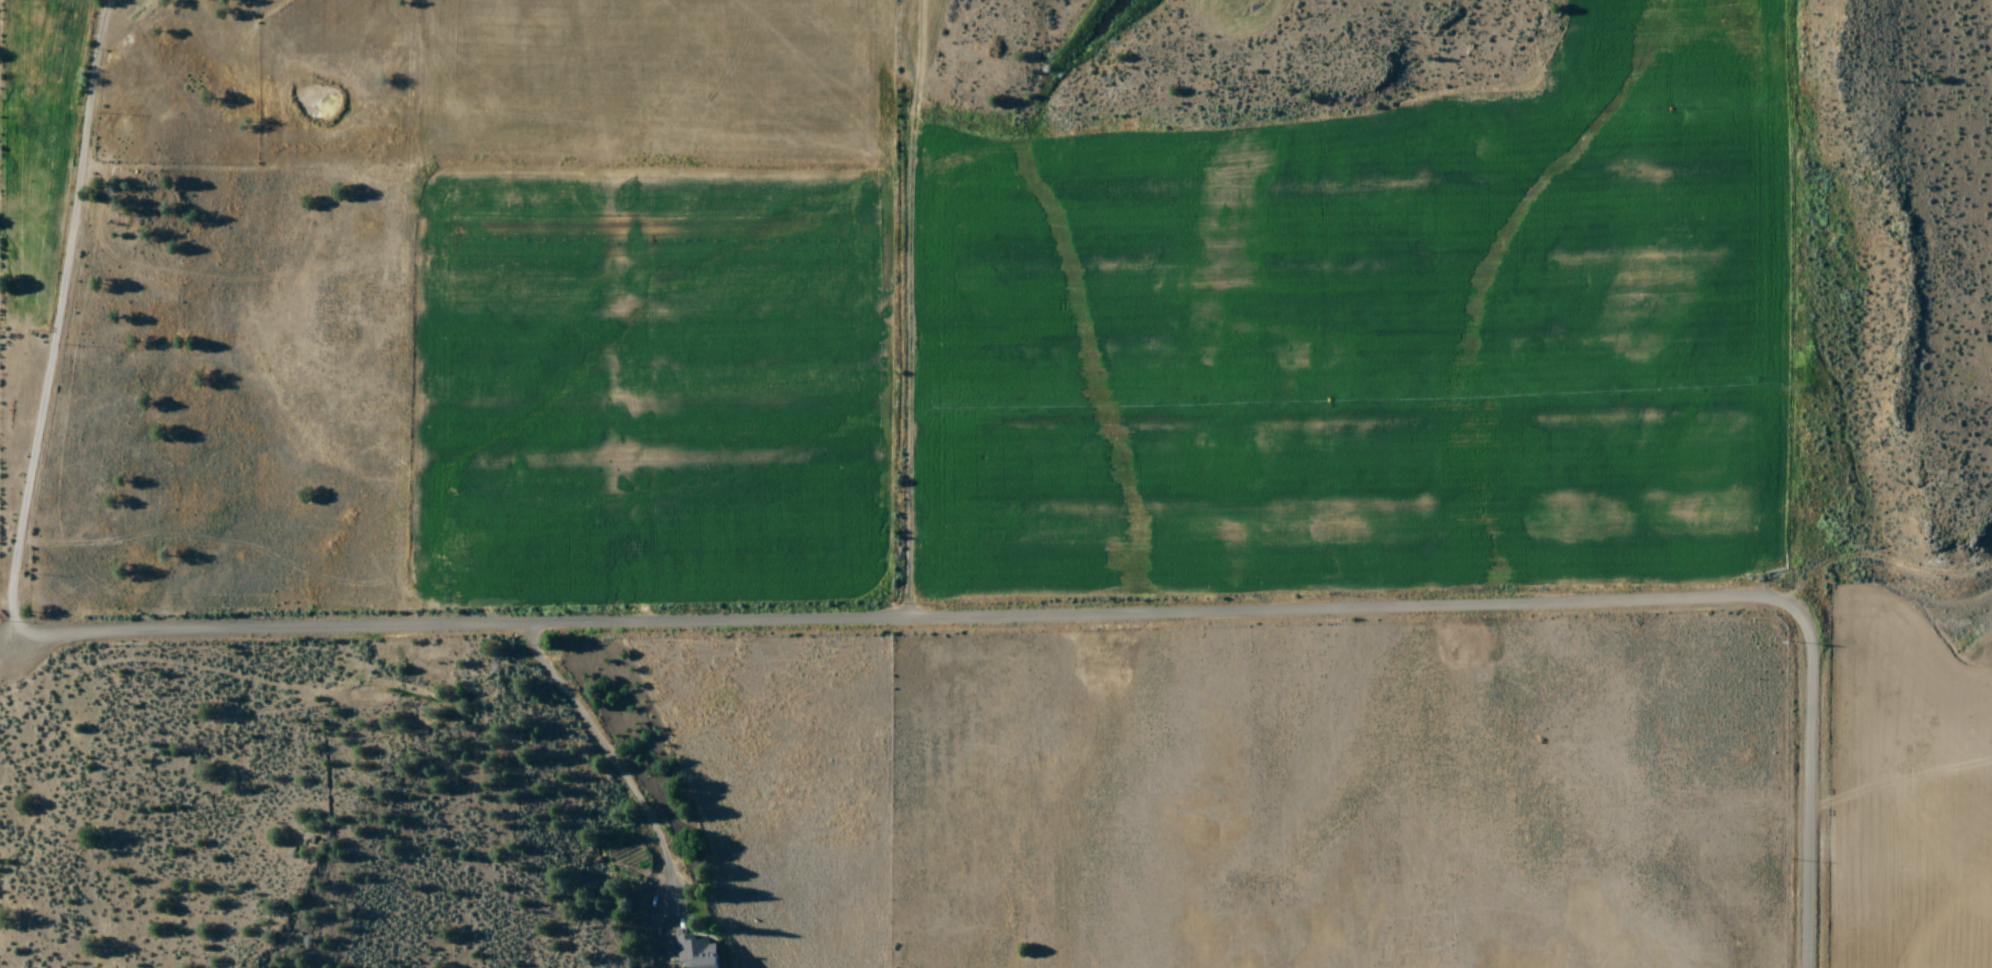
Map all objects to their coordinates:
road: (908, 320)
road: (1558, 609)
building: (696, 953)

